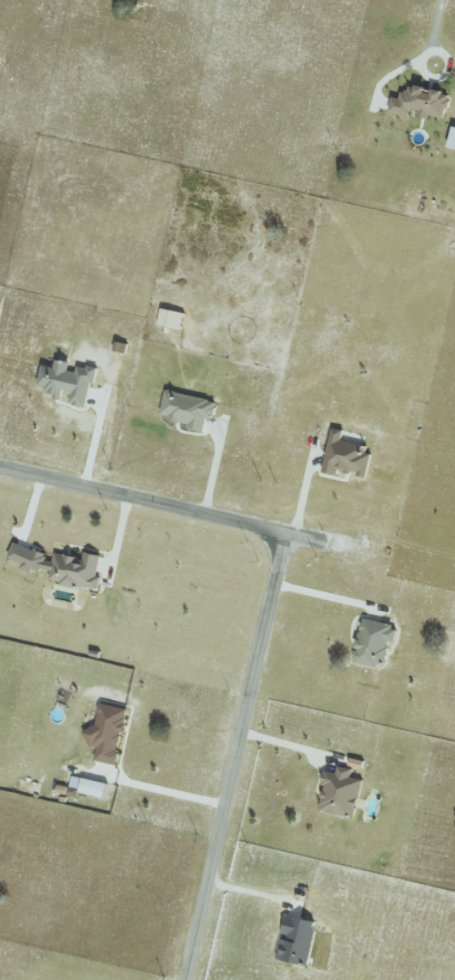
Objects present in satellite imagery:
road: (435, 34)
building: (420, 102)
building: (452, 139)
building: (171, 318)
building: (67, 381)
building: (186, 408)
road: (101, 424)
building: (346, 456)
road: (213, 468)
road: (304, 492)
road: (182, 510)
road: (117, 541)
building: (59, 565)
road: (327, 595)
building: (374, 641)
building: (107, 732)
road: (289, 749)
road: (238, 757)
building: (93, 787)
building: (340, 792)
road: (174, 798)
building: (296, 939)

